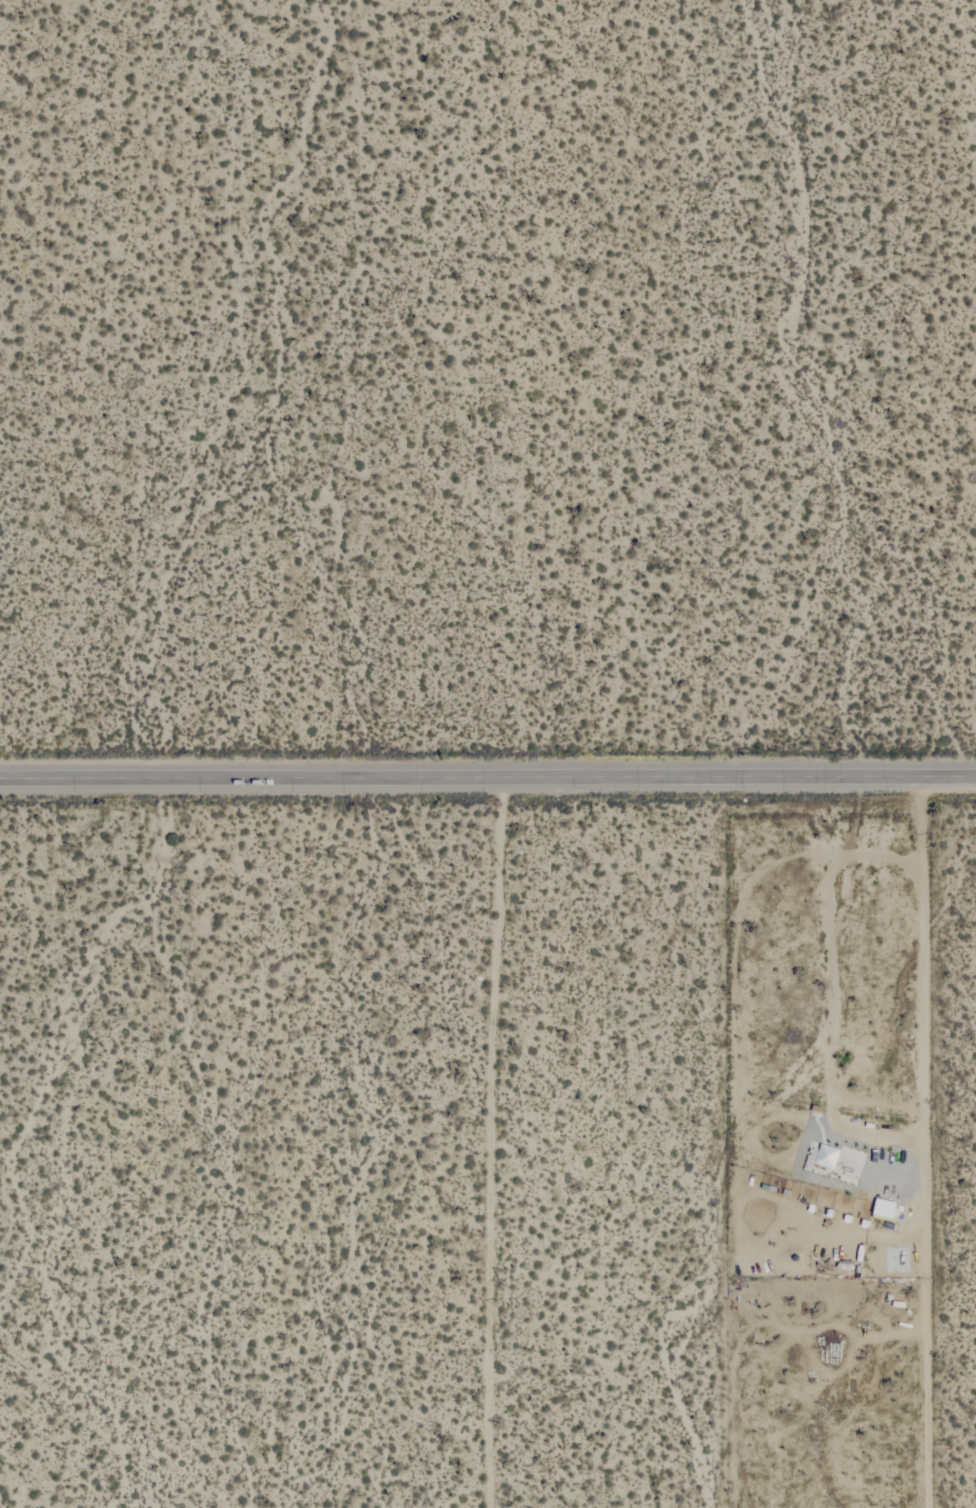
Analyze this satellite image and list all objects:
road: (488, 775)

